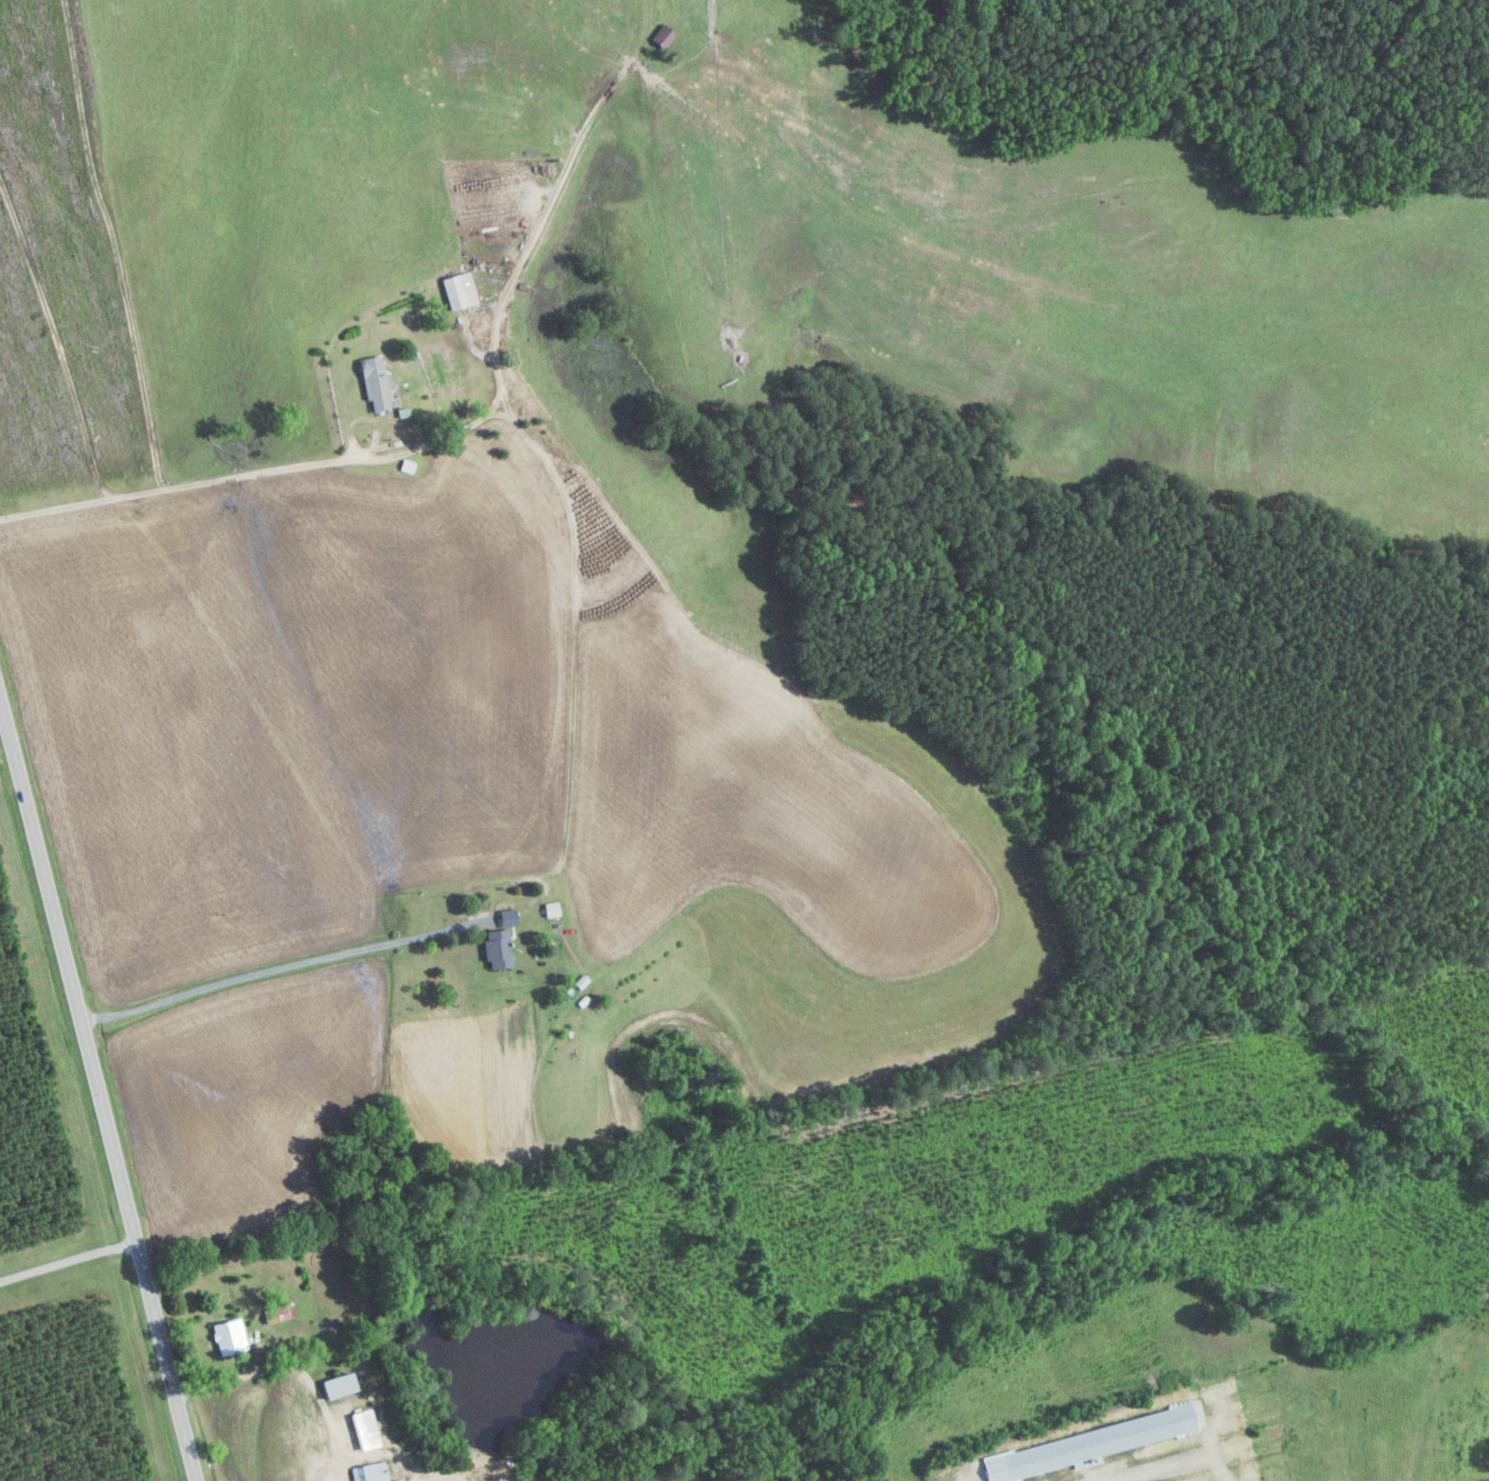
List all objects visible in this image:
building: (662, 38)
road: (499, 289)
building: (455, 293)
building: (373, 385)
road: (174, 490)
building: (494, 951)
road: (97, 1090)
building: (275, 1314)
building: (225, 1338)
building: (333, 1387)
building: (361, 1432)
building: (1082, 1447)
building: (366, 1473)
building: (474, 1477)

